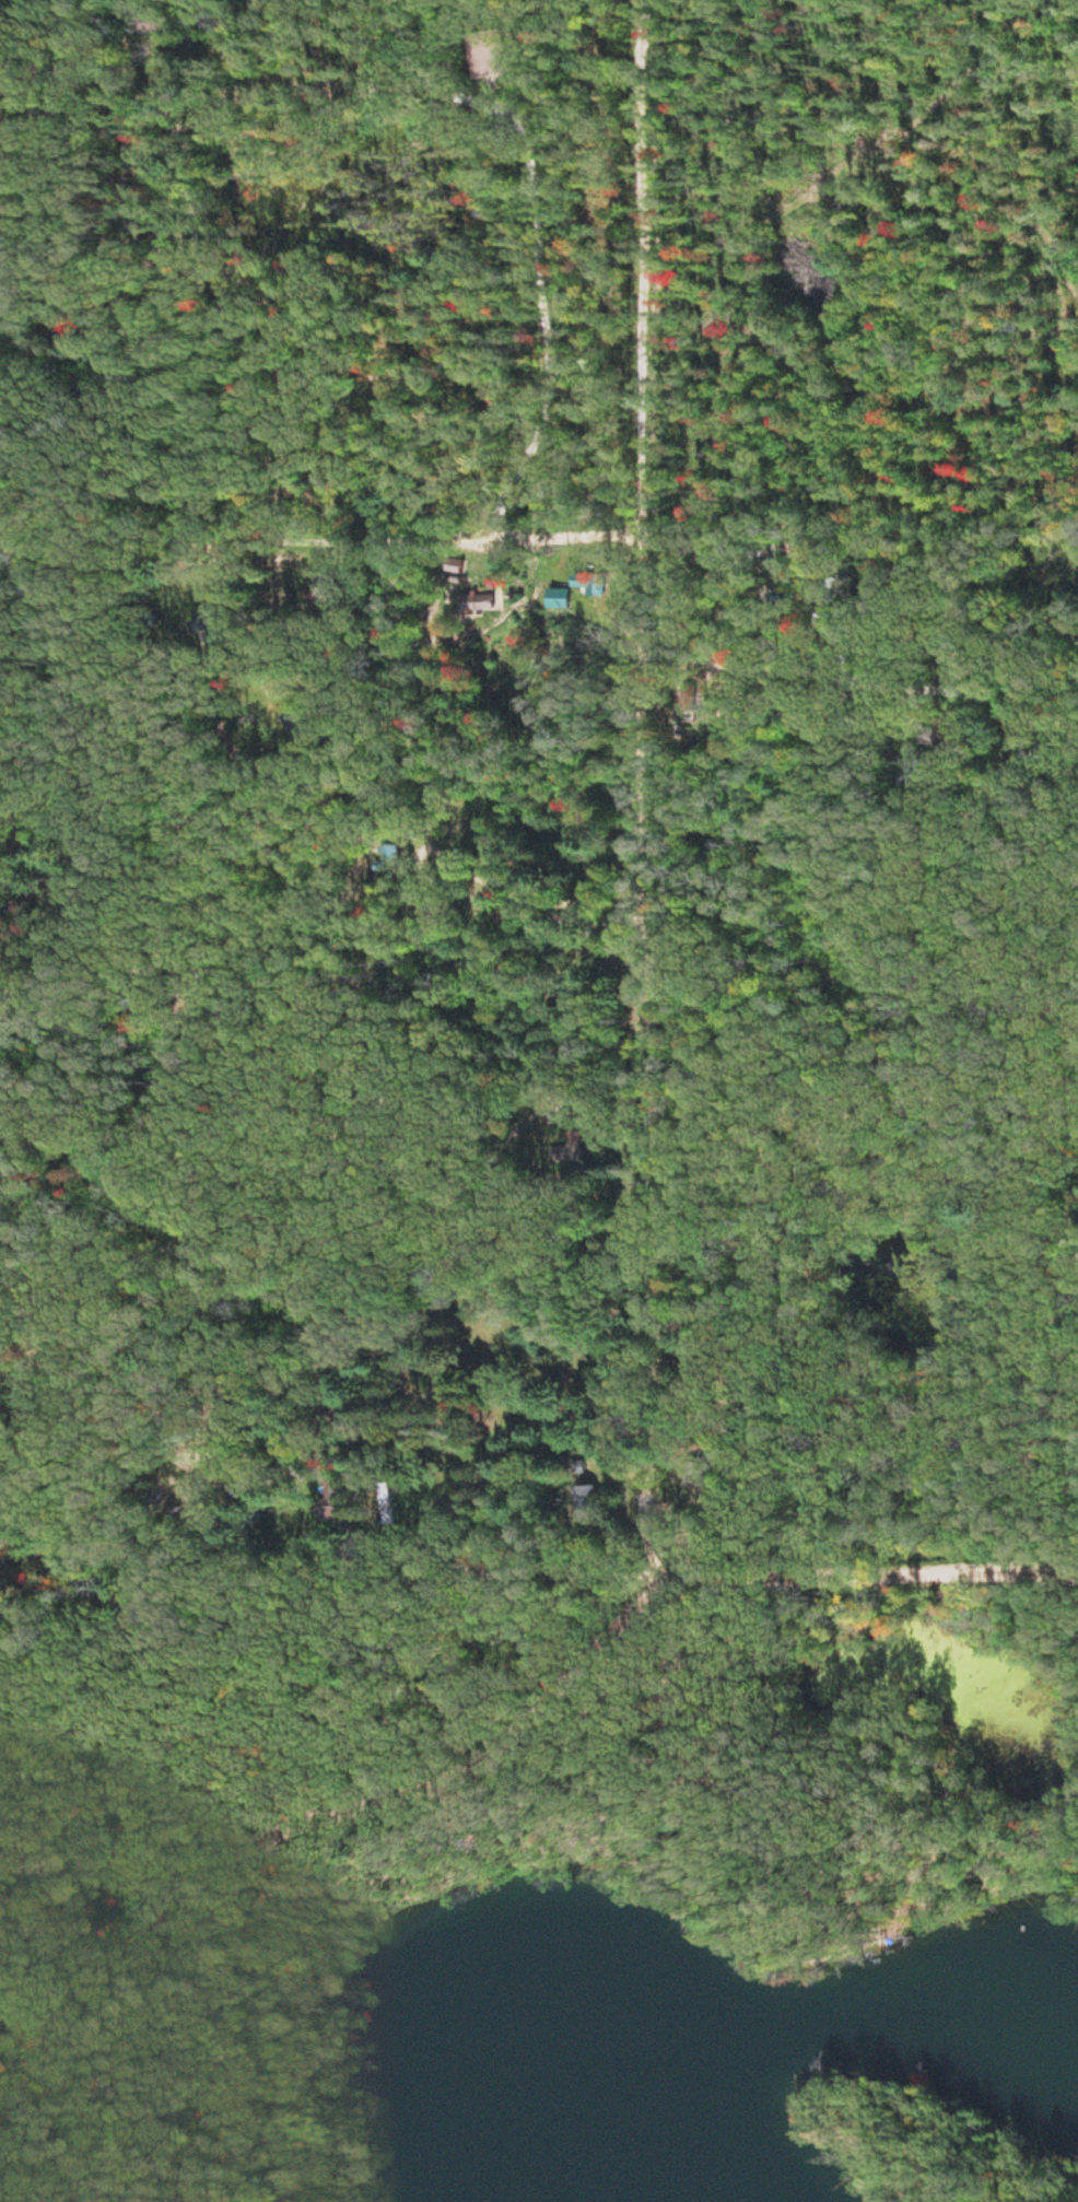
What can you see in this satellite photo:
road: (419, 35)
road: (234, 59)
road: (553, 194)
road: (418, 350)
road: (645, 459)
road: (593, 483)
road: (554, 942)
road: (663, 1044)
road: (661, 1383)
building: (462, 1390)
building: (711, 1480)
road: (889, 1577)
road: (471, 1580)
road: (340, 1831)

